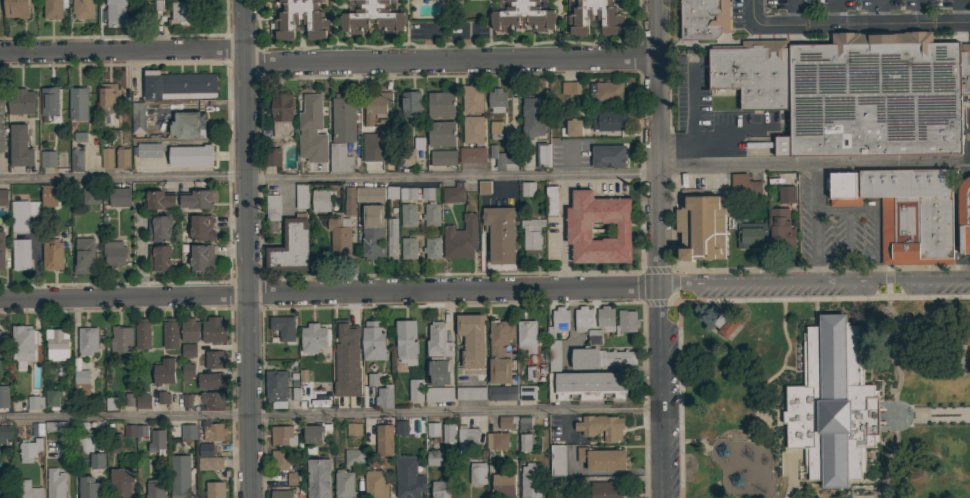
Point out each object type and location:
building: (16, 8)
parking lot: (862, 8)
building: (52, 9)
building: (83, 9)
road: (750, 10)
road: (792, 12)
road: (833, 12)
road: (875, 12)
road: (920, 12)
road: (960, 12)
building: (116, 13)
building: (155, 13)
building: (184, 13)
building: (522, 15)
building: (372, 16)
building: (594, 17)
building: (300, 19)
building: (703, 19)
road: (861, 24)
road: (122, 52)
road: (449, 61)
building: (965, 69)
building: (753, 73)
building: (178, 85)
building: (570, 88)
building: (605, 91)
building: (873, 96)
building: (107, 97)
building: (472, 98)
building: (49, 100)
building: (497, 100)
building: (21, 103)
building: (78, 103)
building: (410, 104)
building: (440, 104)
building: (375, 105)
building: (311, 112)
building: (281, 114)
building: (343, 114)
building: (138, 118)
building: (533, 118)
building: (609, 120)
road: (690, 122)
building: (187, 125)
building: (571, 127)
building: (2, 128)
building: (472, 129)
building: (495, 130)
road: (724, 130)
building: (440, 133)
building: (78, 137)
building: (418, 143)
road: (655, 144)
building: (20, 146)
road: (246, 147)
building: (370, 148)
building: (149, 150)
building: (472, 155)
building: (542, 155)
building: (190, 156)
building: (607, 156)
building: (271, 157)
building: (443, 157)
building: (107, 158)
building: (123, 158)
building: (404, 158)
building: (47, 159)
building: (341, 159)
building: (502, 159)
road: (568, 159)
building: (76, 160)
building: (311, 162)
road: (812, 165)
road: (328, 176)
road: (959, 176)
building: (826, 183)
building: (745, 185)
building: (484, 188)
building: (527, 189)
building: (842, 189)
building: (392, 192)
building: (427, 193)
building: (453, 193)
building: (369, 194)
building: (408, 194)
building: (786, 194)
building: (90, 196)
building: (119, 196)
building: (301, 196)
building: (3, 197)
building: (46, 197)
building: (196, 199)
building: (159, 200)
building: (320, 200)
building: (551, 201)
building: (349, 202)
building: (272, 207)
road: (830, 211)
building: (22, 214)
building: (431, 214)
building: (912, 214)
building: (408, 215)
building: (964, 215)
road: (815, 225)
building: (701, 227)
building: (780, 227)
road: (954, 227)
building: (158, 228)
building: (201, 228)
building: (578, 230)
building: (372, 232)
road: (563, 232)
building: (339, 233)
road: (875, 233)
building: (500, 234)
building: (532, 234)
building: (751, 235)
building: (392, 238)
building: (460, 238)
building: (290, 246)
road: (845, 247)
building: (409, 248)
building: (432, 248)
building: (2, 250)
building: (114, 253)
building: (20, 254)
building: (52, 255)
road: (140, 255)
building: (84, 256)
building: (202, 257)
building: (678, 257)
building: (159, 258)
road: (34, 259)
road: (965, 260)
road: (684, 271)
road: (961, 273)
road: (887, 283)
road: (814, 286)
road: (453, 291)
road: (124, 296)
road: (725, 302)
building: (606, 317)
building: (582, 319)
building: (558, 322)
building: (626, 322)
building: (725, 324)
road: (928, 324)
building: (283, 328)
building: (213, 329)
building: (190, 330)
building: (142, 334)
building: (170, 334)
building: (526, 337)
building: (313, 338)
building: (593, 338)
building: (121, 339)
building: (471, 340)
building: (87, 341)
building: (373, 341)
building: (406, 341)
building: (437, 341)
building: (22, 343)
building: (57, 344)
road: (787, 344)
road: (963, 344)
building: (0, 345)
building: (188, 350)
building: (500, 352)
building: (553, 355)
road: (892, 356)
building: (600, 358)
building: (214, 359)
road: (789, 368)
building: (164, 372)
building: (187, 372)
building: (438, 373)
building: (211, 380)
building: (81, 382)
building: (586, 385)
building: (276, 388)
building: (416, 390)
building: (527, 392)
road: (659, 392)
building: (470, 393)
building: (501, 393)
building: (349, 394)
building: (438, 394)
road: (250, 396)
building: (326, 396)
building: (4, 397)
building: (384, 397)
building: (51, 398)
building: (163, 398)
park: (826, 399)
building: (212, 400)
building: (143, 401)
building: (185, 401)
building: (35, 402)
building: (111, 403)
building: (832, 404)
road: (330, 414)
road: (924, 414)
building: (507, 422)
building: (525, 423)
building: (55, 427)
building: (600, 427)
building: (401, 428)
building: (353, 429)
building: (432, 429)
building: (135, 431)
building: (212, 431)
building: (188, 432)
building: (5, 433)
building: (314, 433)
building: (448, 433)
building: (282, 435)
building: (156, 440)
building: (383, 440)
building: (497, 440)
road: (694, 440)
building: (85, 442)
building: (468, 442)
building: (524, 442)
building: (113, 443)
building: (205, 449)
building: (29, 450)
building: (353, 457)
building: (434, 458)
building: (281, 459)
building: (601, 459)
building: (557, 460)
building: (97, 461)
road: (886, 461)
building: (210, 463)
building: (477, 473)
building: (180, 477)
building: (292, 478)
building: (317, 478)
building: (407, 478)
building: (530, 480)
building: (121, 482)
building: (55, 484)
building: (344, 484)
building: (375, 485)
building: (502, 485)
building: (3, 487)
building: (89, 487)
building: (155, 488)
building: (27, 489)
building: (214, 489)
building: (443, 489)
building: (606, 489)
building: (282, 494)
building: (472, 495)
road: (854, 496)

